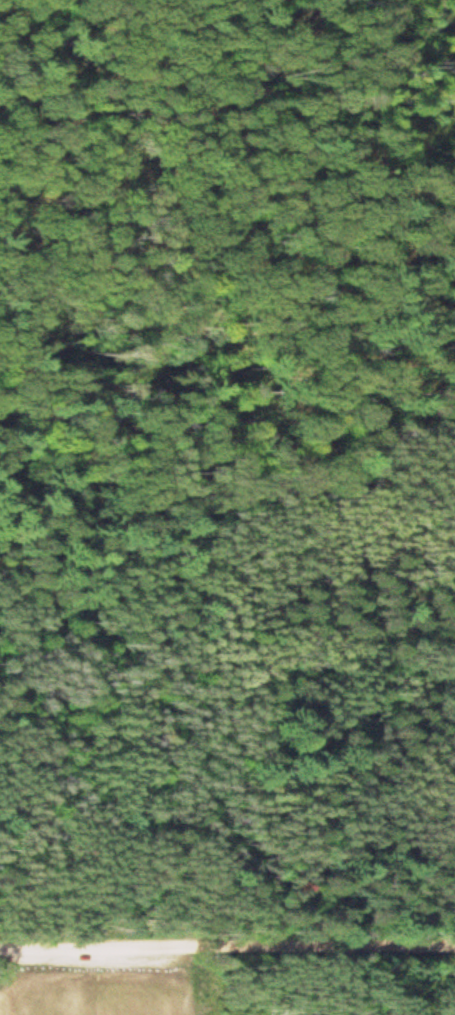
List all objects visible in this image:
road: (134, 297)
road: (227, 944)

